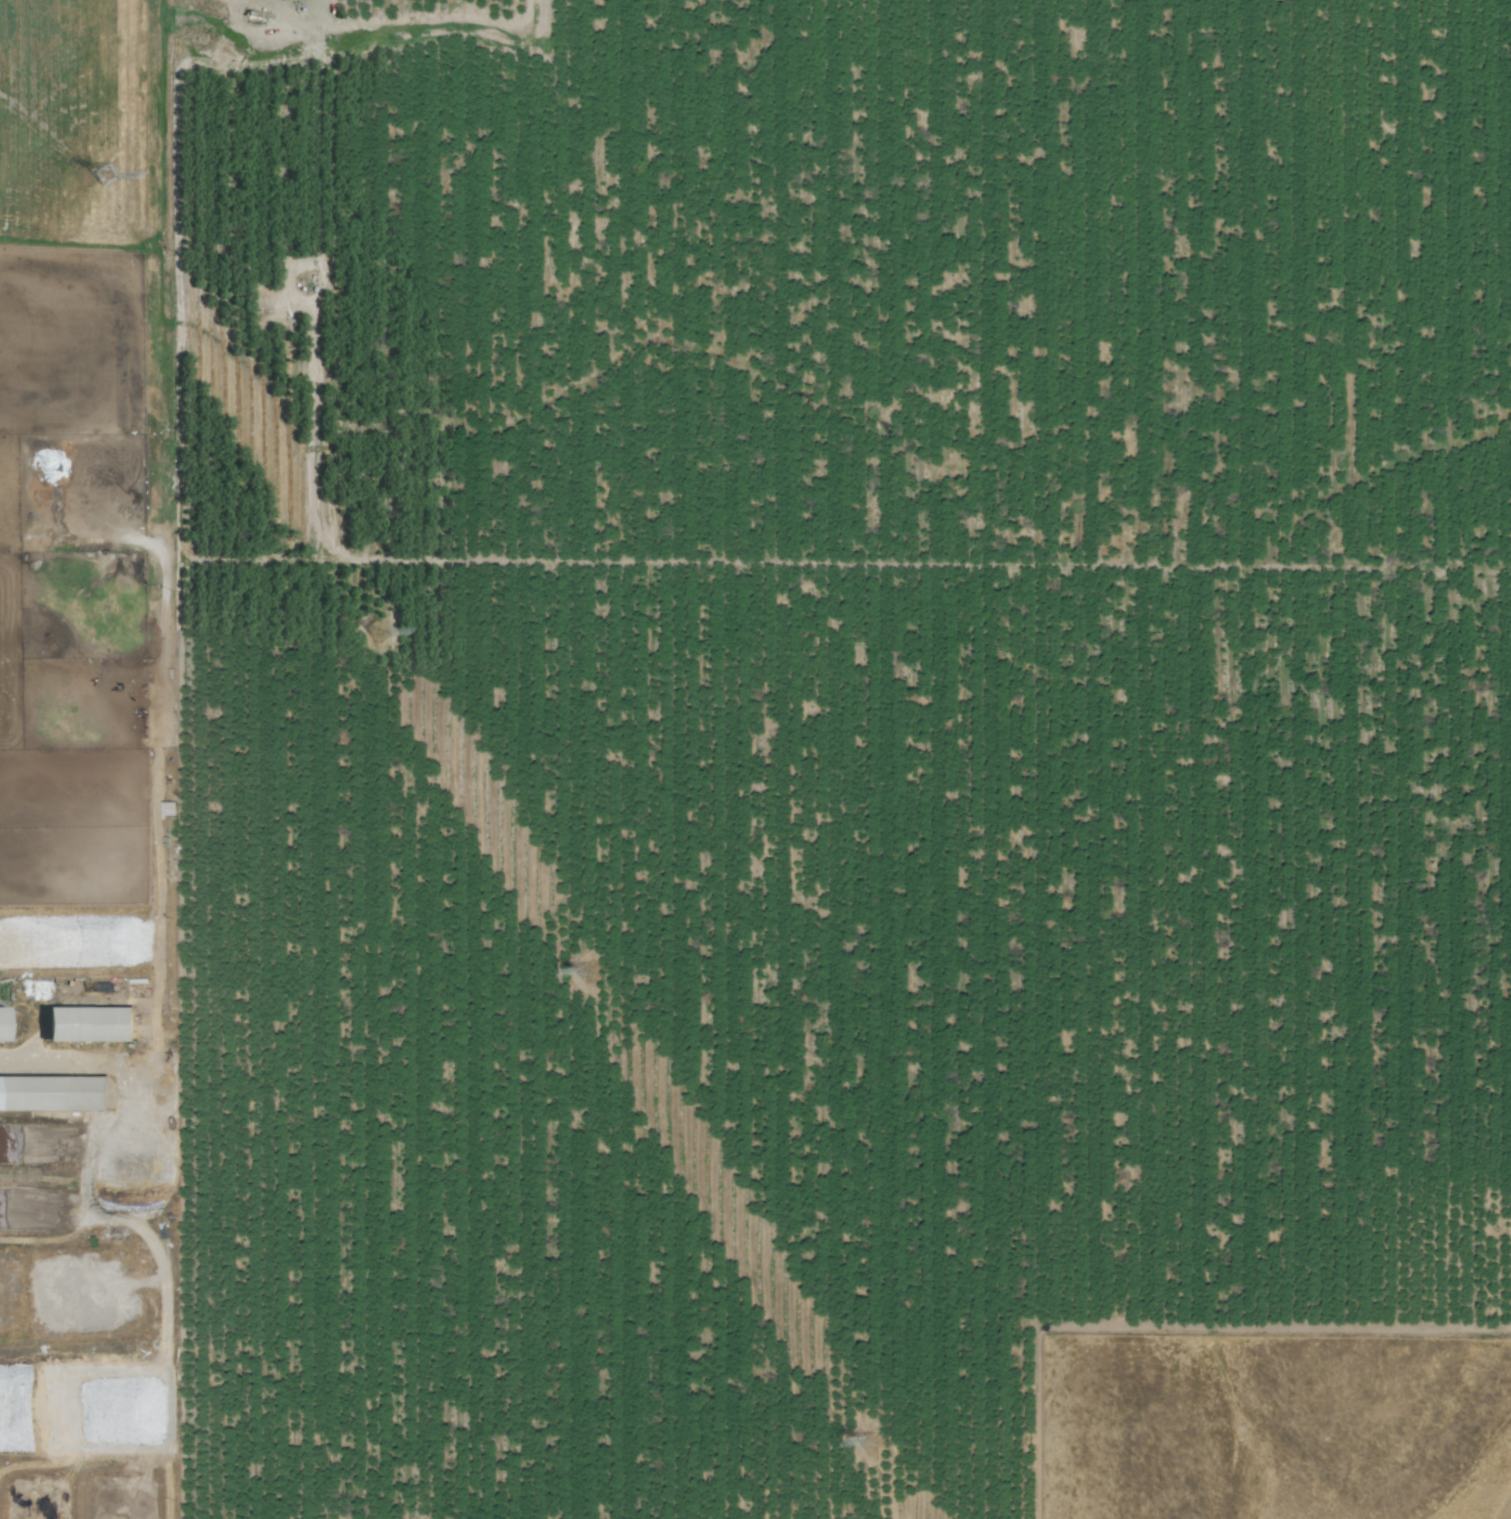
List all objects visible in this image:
building: (103, 175)
power tower: (103, 175)
power tower: (378, 629)
power tower: (583, 973)
building: (2, 1024)
building: (88, 1025)
building: (54, 1095)
power tower: (868, 1440)

